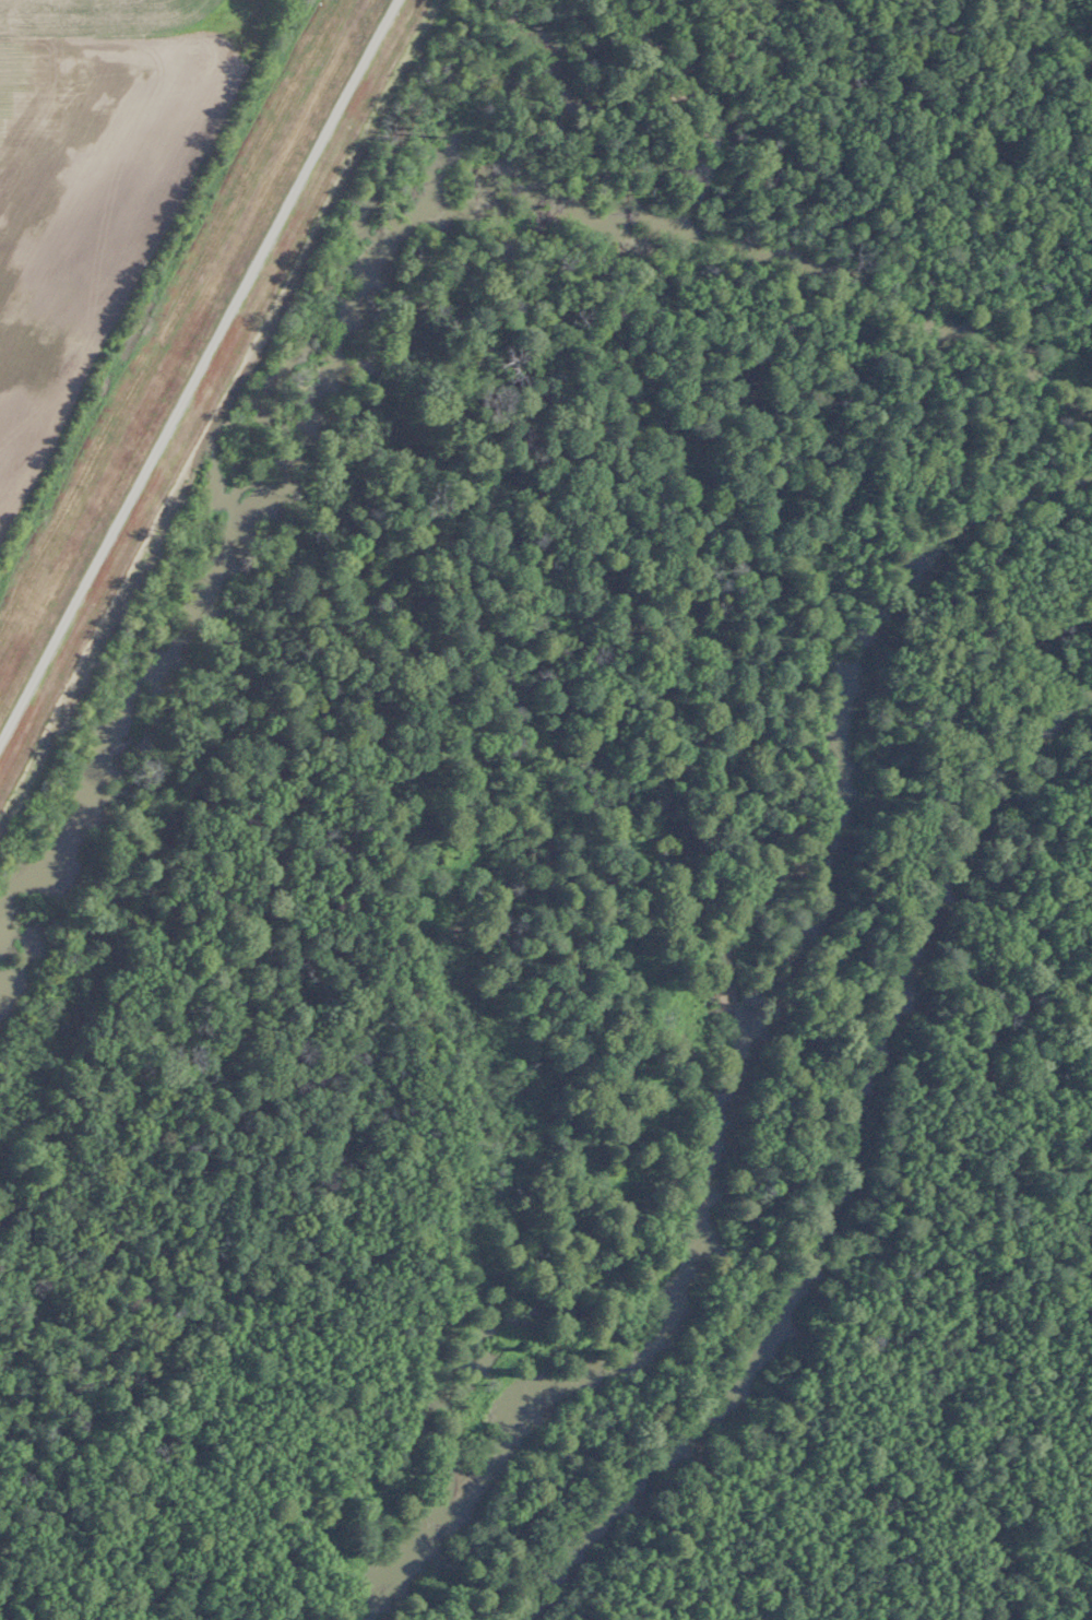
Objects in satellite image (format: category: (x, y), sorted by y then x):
road: (658, 55)
road: (200, 369)
river: (746, 1051)
river: (834, 1170)

